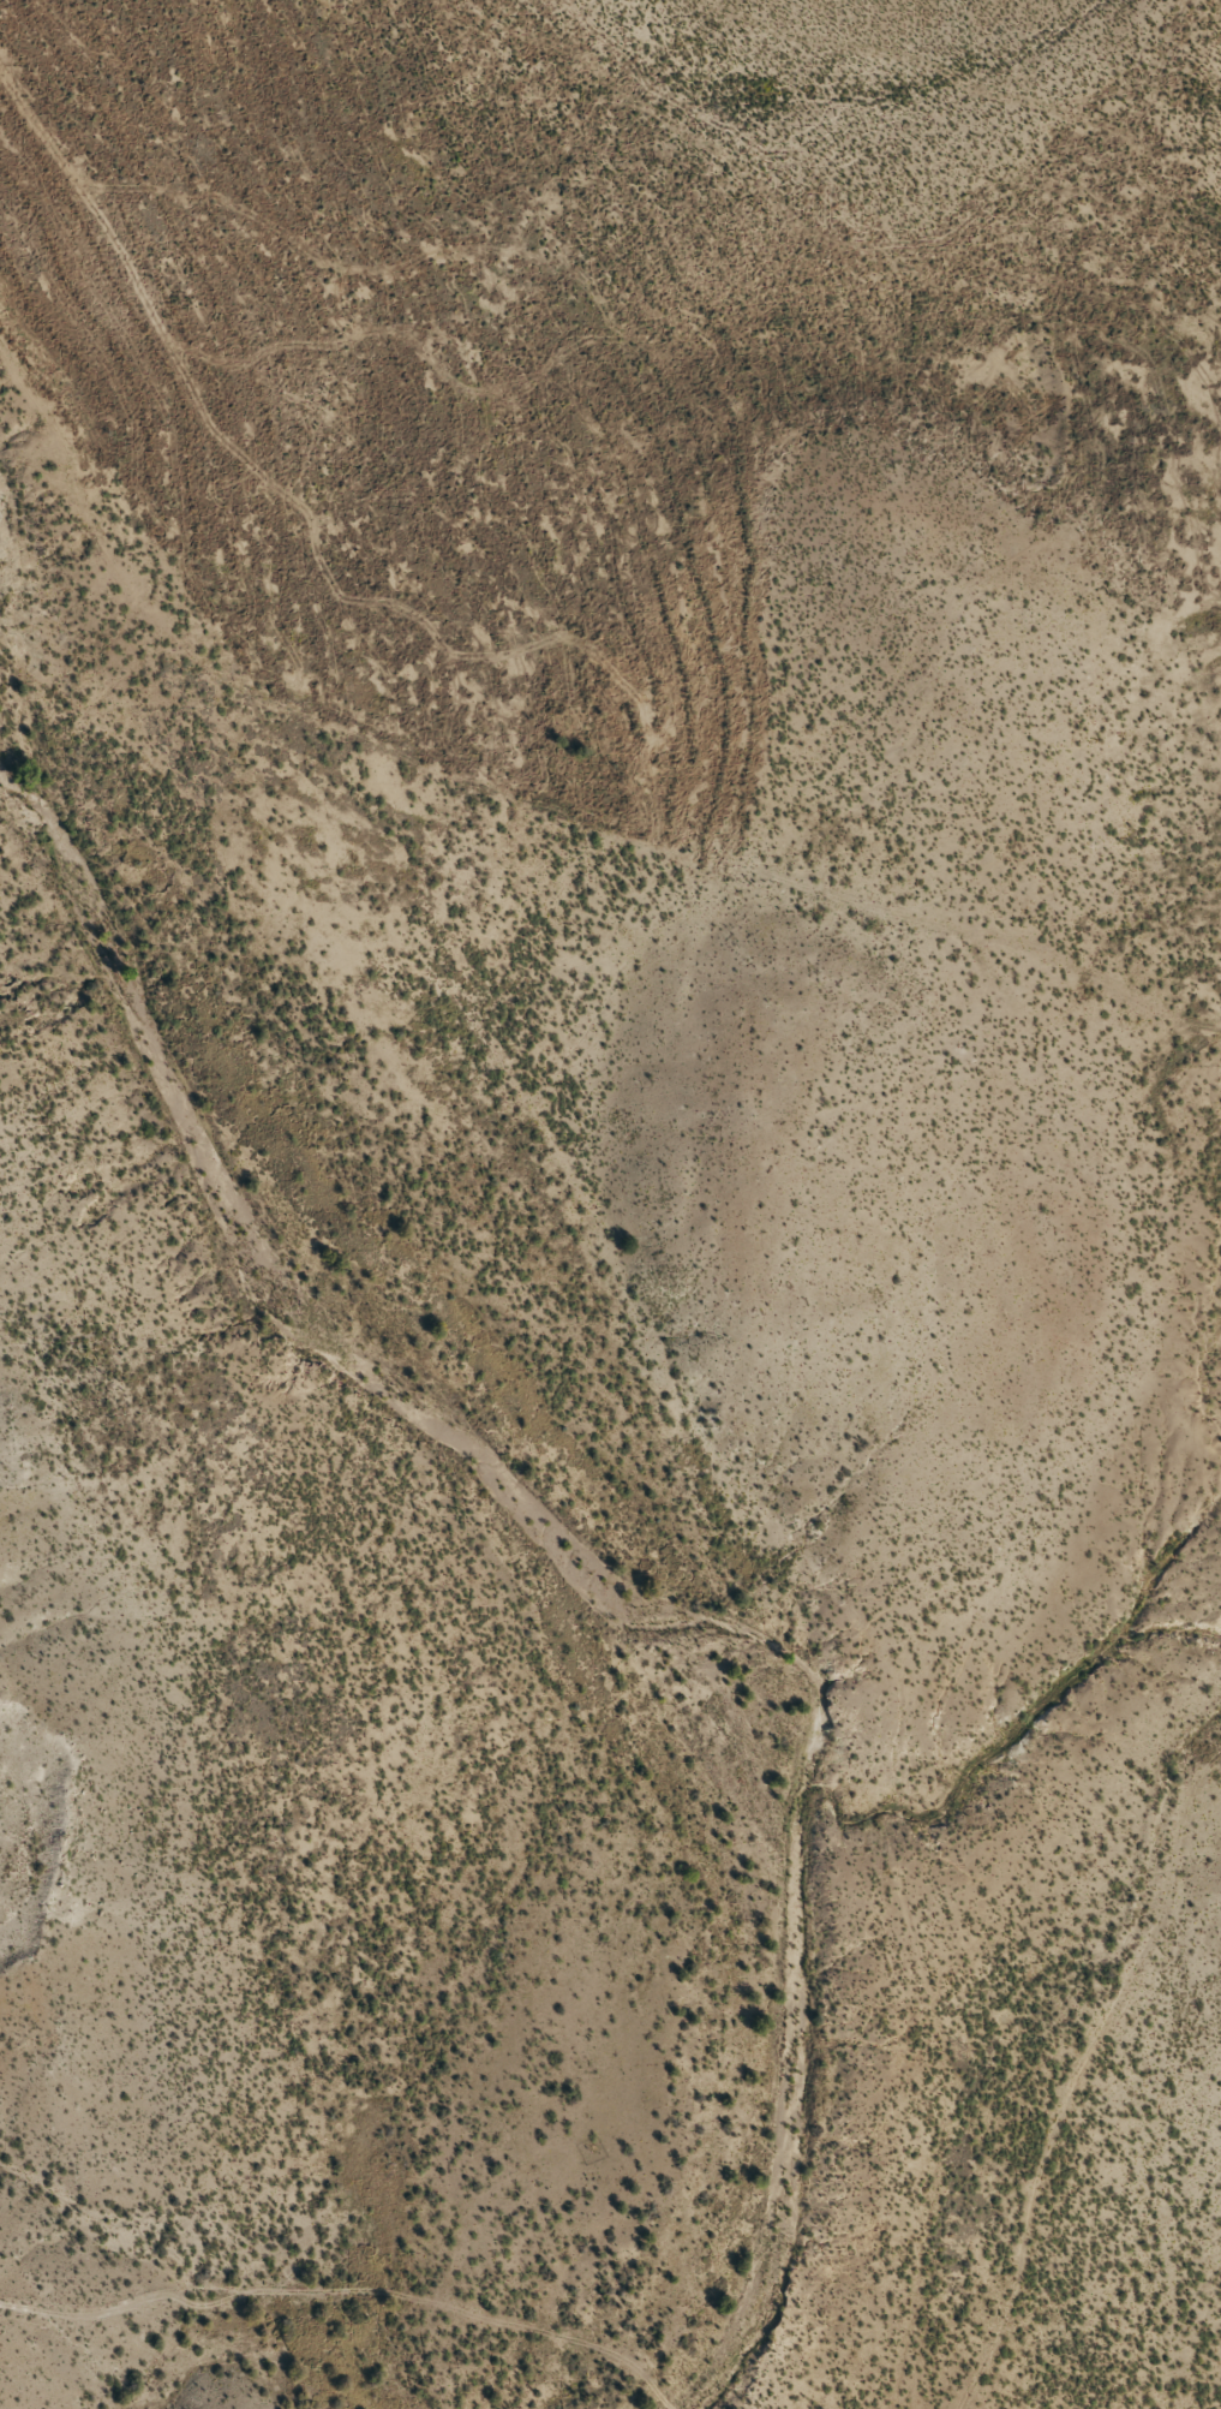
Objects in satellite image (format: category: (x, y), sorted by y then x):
road: (864, 699)
road: (538, 831)
road: (1066, 2118)

